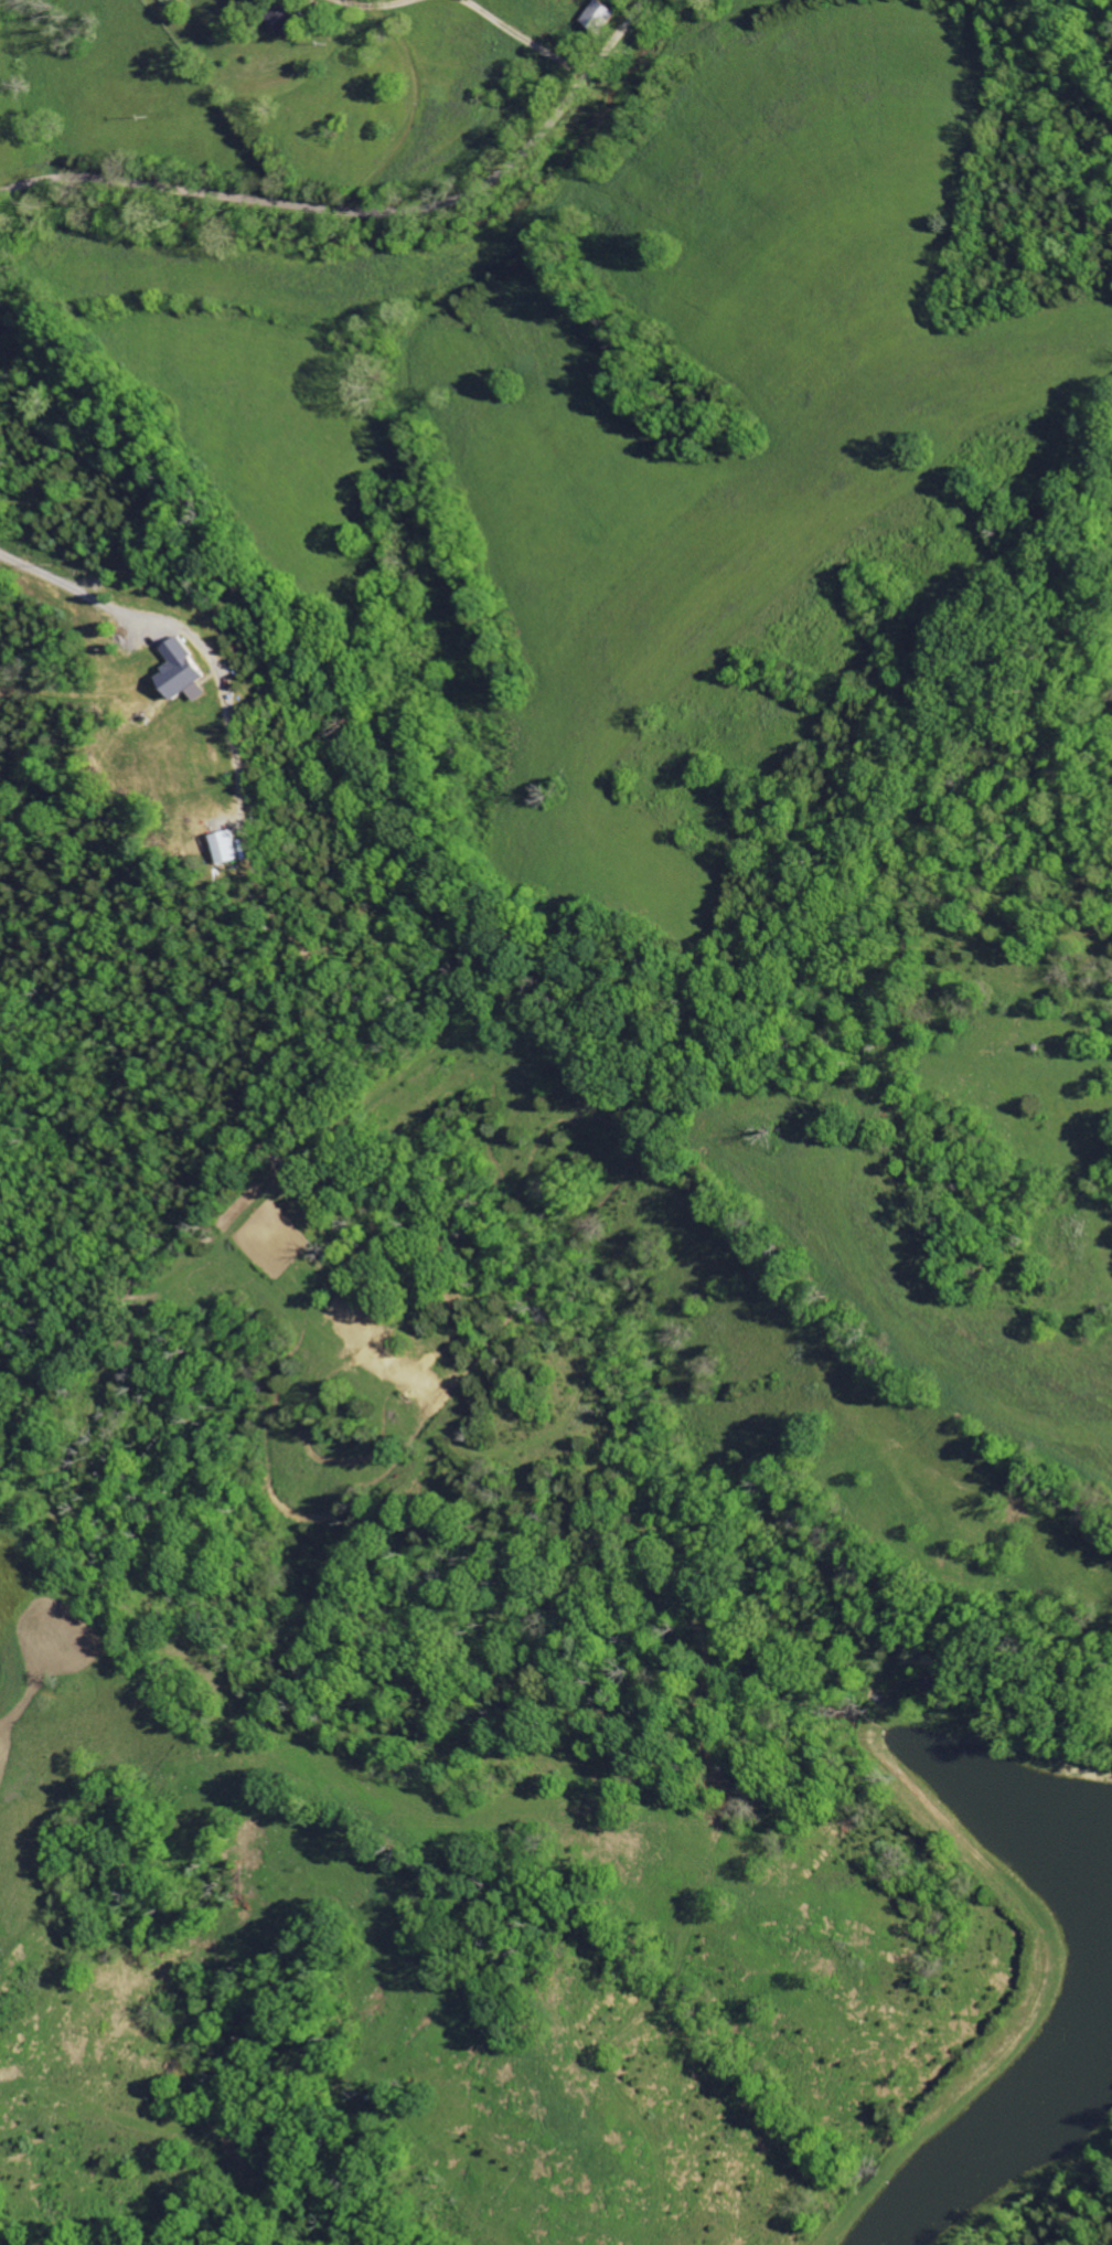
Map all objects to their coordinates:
building: (602, 15)
road: (534, 29)
road: (419, 96)
road: (362, 208)
building: (185, 673)
building: (227, 849)

